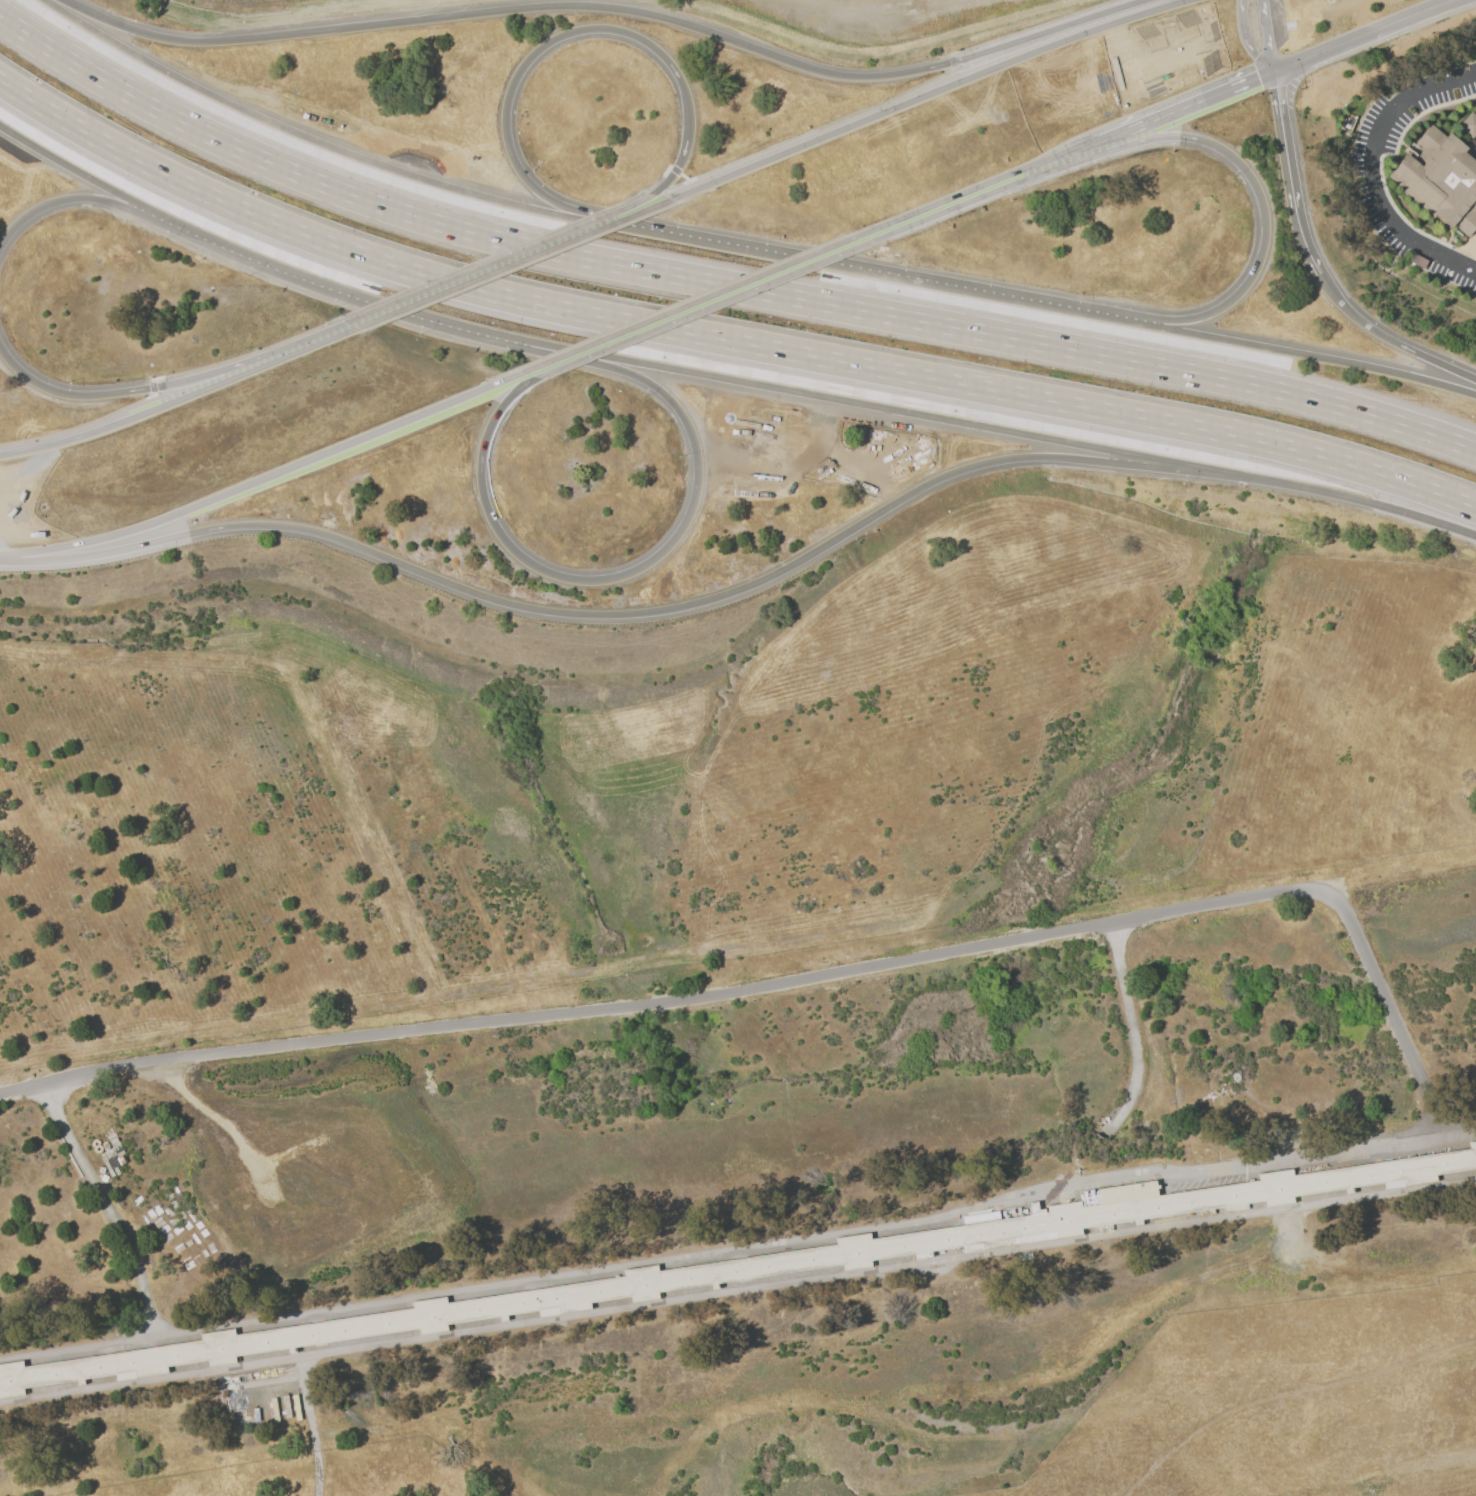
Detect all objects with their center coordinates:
road: (611, 8)
road: (837, 12)
road: (1267, 36)
road: (1364, 36)
road: (1247, 40)
road: (544, 47)
traffic signals: (1272, 74)
road: (932, 95)
road: (1188, 108)
building: (1468, 125)
road: (335, 149)
road: (1365, 171)
road: (1290, 176)
road: (89, 177)
building: (1440, 180)
road: (985, 191)
road: (1260, 195)
road: (82, 199)
road: (640, 209)
road: (650, 211)
road: (483, 275)
road: (876, 276)
road: (719, 285)
road: (362, 295)
road: (697, 308)
road: (1389, 339)
road: (722, 340)
road: (1289, 352)
road: (243, 365)
road: (61, 392)
road: (174, 402)
road: (1015, 432)
road: (268, 479)
road: (170, 539)
road: (819, 551)
road: (642, 569)
road: (799, 978)
road: (1130, 1031)
road: (105, 1205)
road: (738, 1247)
building: (753, 1268)
road: (737, 1290)
road: (310, 1426)

